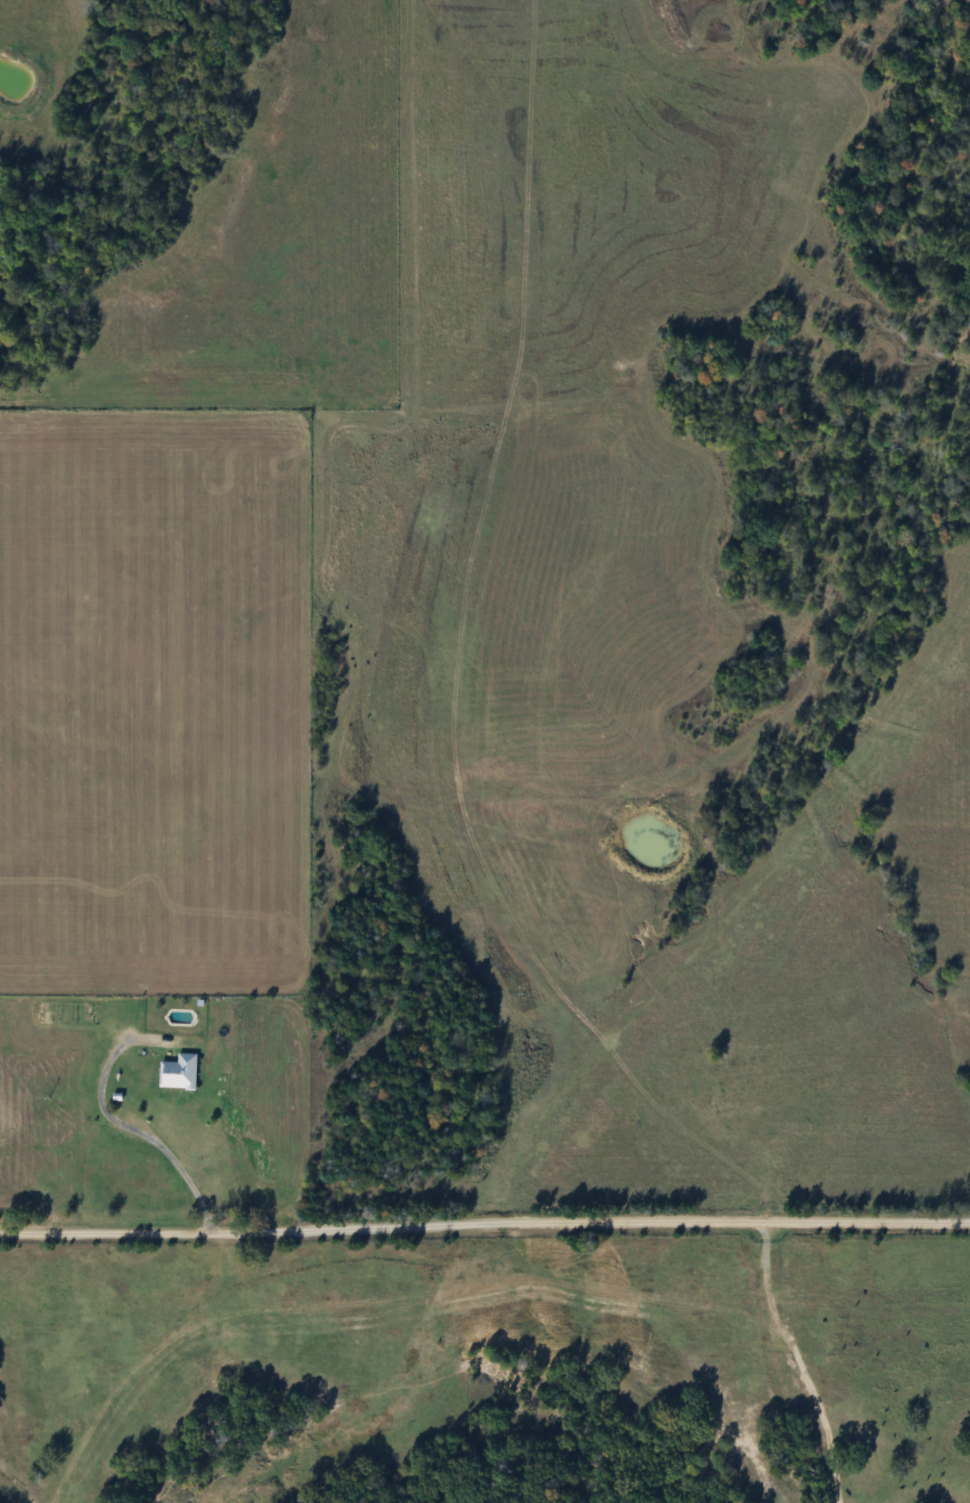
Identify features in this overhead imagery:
building: (181, 1073)
road: (187, 1162)
road: (484, 1225)
road: (778, 1365)

